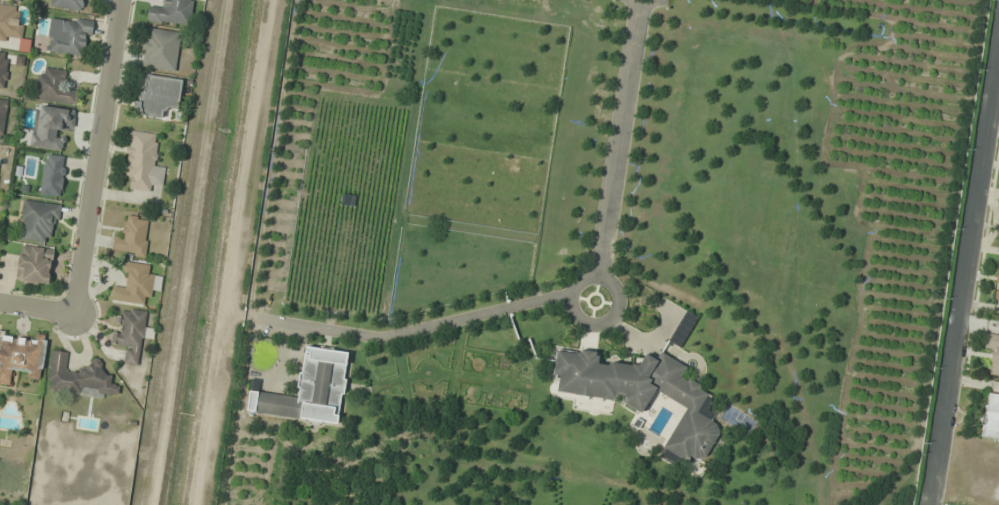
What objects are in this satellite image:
building: (16, 0)
building: (66, 4)
building: (171, 12)
building: (9, 23)
building: (70, 35)
building: (159, 49)
building: (3, 69)
building: (54, 86)
building: (159, 95)
building: (3, 117)
building: (50, 126)
road: (98, 157)
building: (142, 160)
building: (52, 175)
building: (347, 199)
building: (37, 221)
building: (133, 236)
building: (34, 265)
road: (966, 275)
building: (136, 283)
building: (997, 286)
road: (37, 309)
building: (682, 328)
building: (131, 333)
building: (993, 351)
building: (21, 356)
building: (78, 377)
building: (308, 389)
building: (643, 394)
building: (991, 417)

